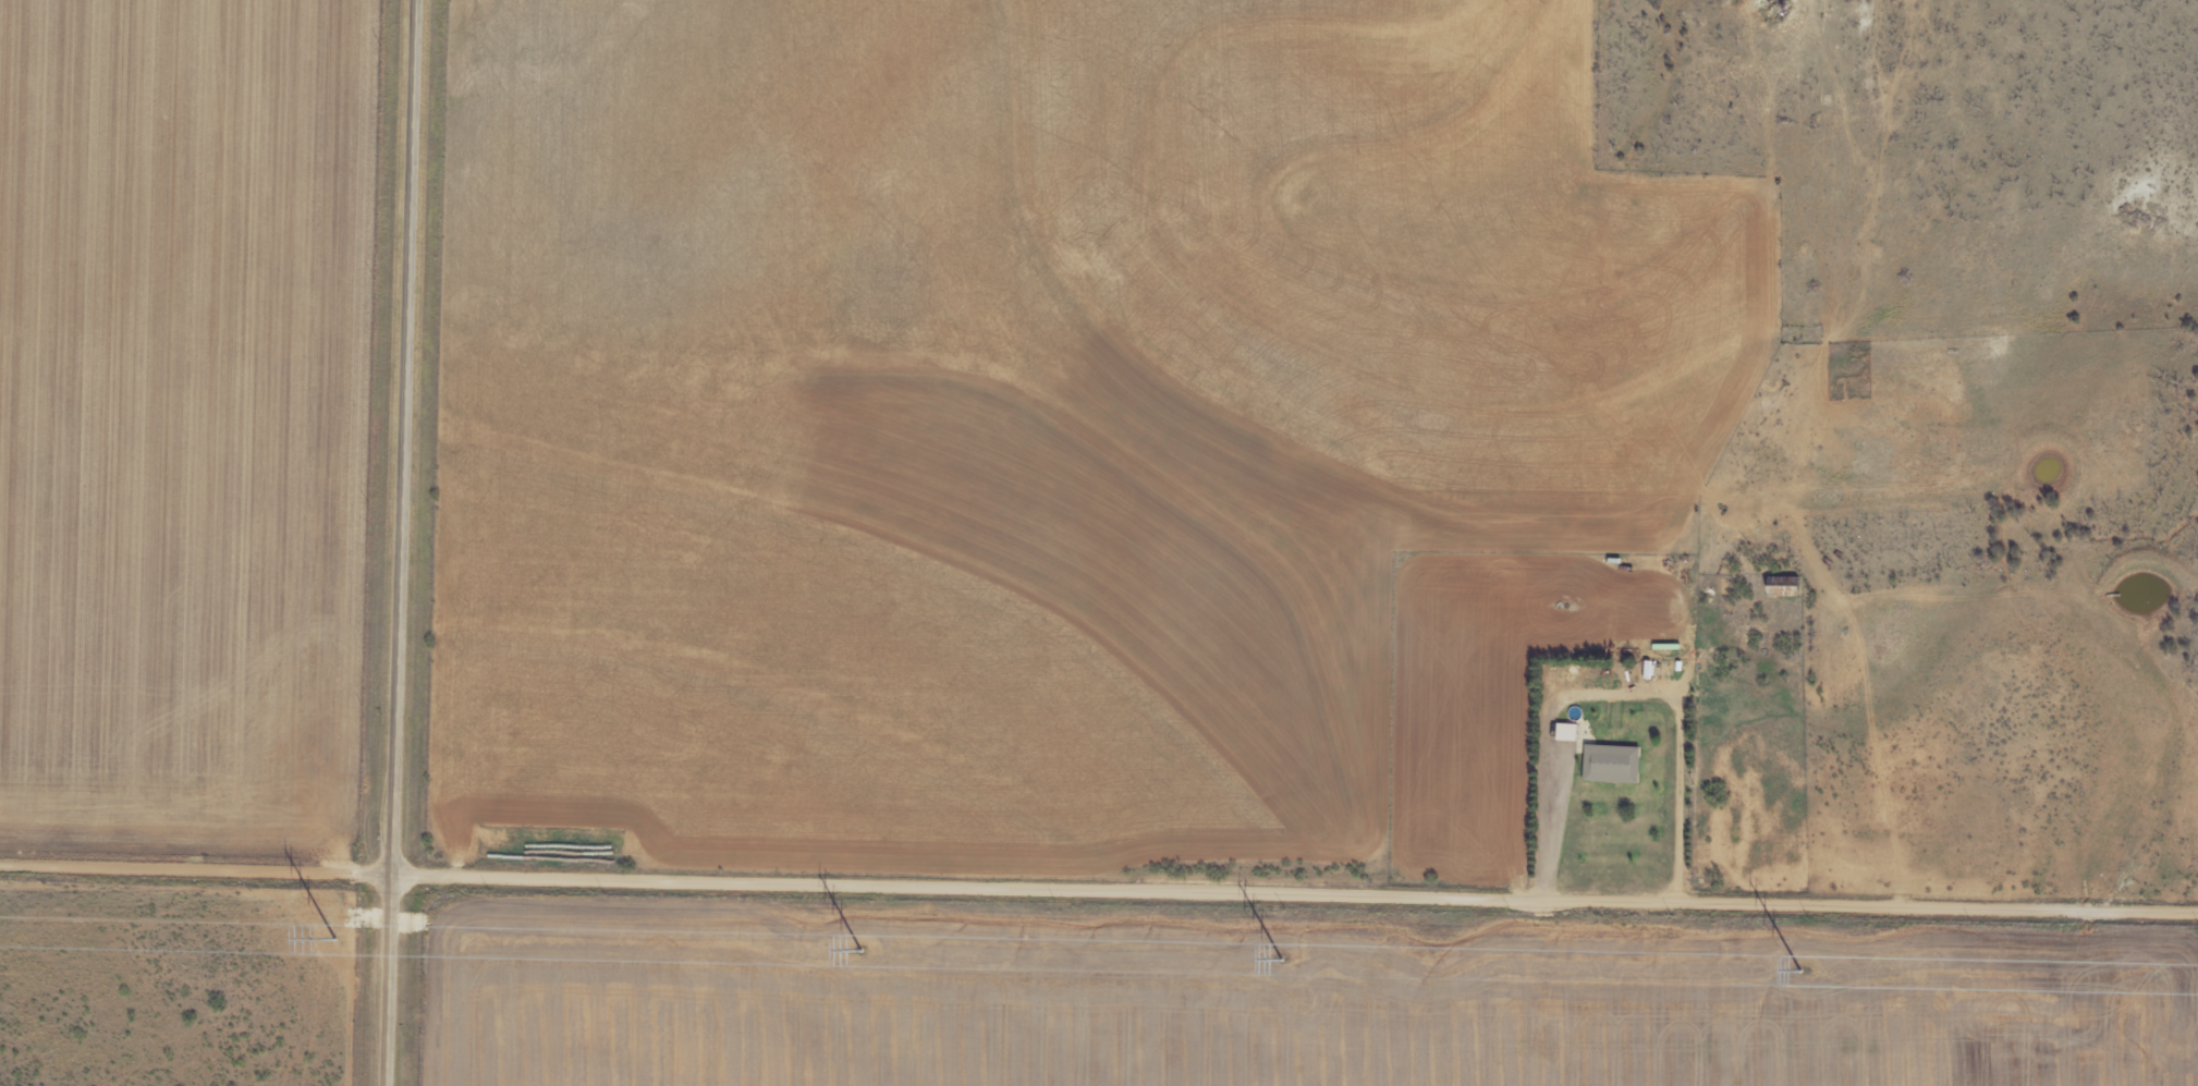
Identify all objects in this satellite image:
road: (401, 542)
building: (1781, 587)
road: (1656, 697)
building: (1563, 734)
building: (1607, 766)
road: (196, 867)
road: (1294, 890)
power tower: (334, 938)
power tower: (863, 949)
power tower: (1281, 957)
power tower: (1800, 968)

